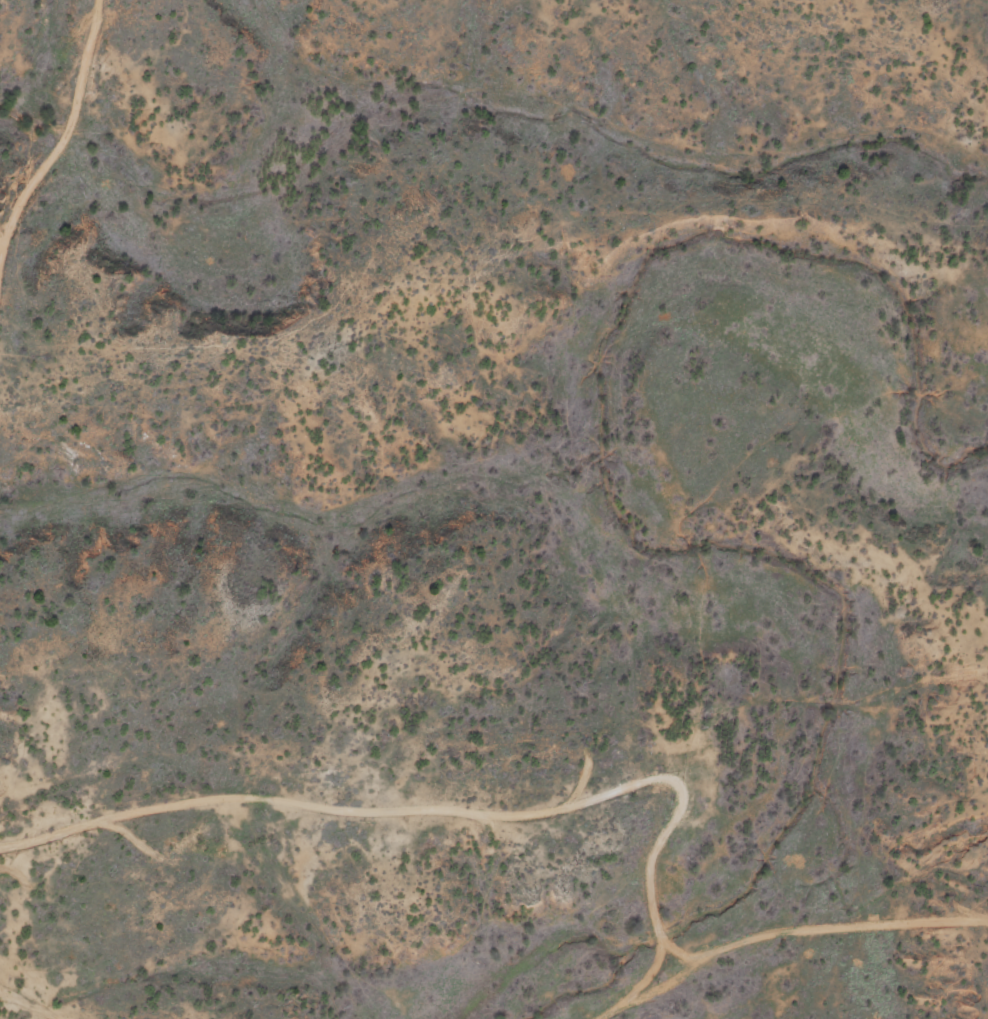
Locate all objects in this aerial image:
road: (48, 202)
road: (418, 797)
road: (801, 925)

